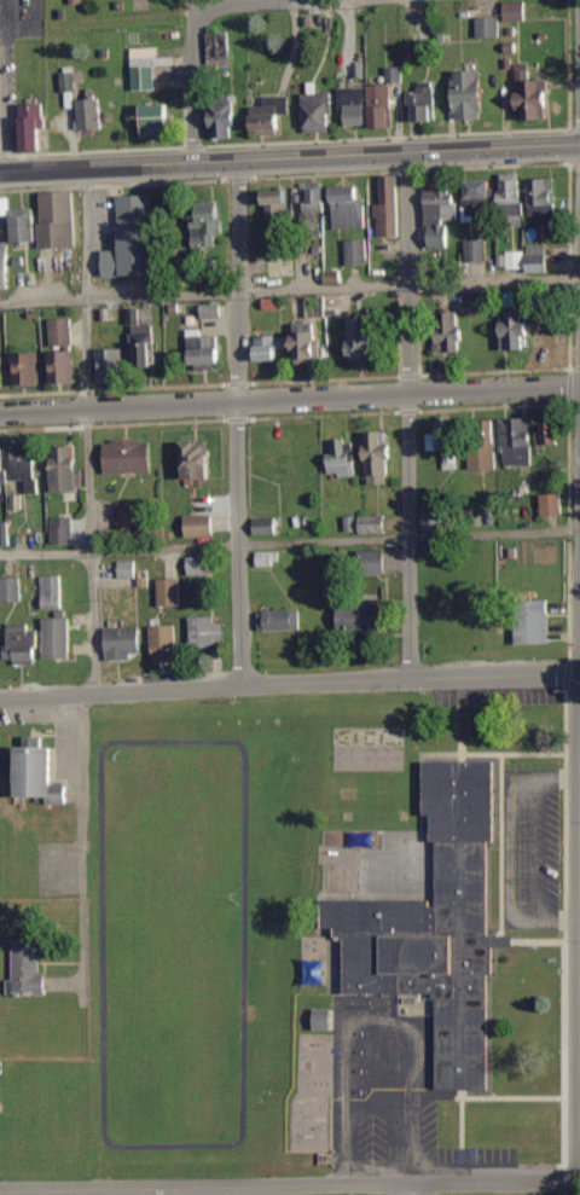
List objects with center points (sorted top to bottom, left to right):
road: (348, 1)
road: (198, 5)
building: (515, 10)
building: (487, 25)
building: (217, 47)
road: (198, 52)
building: (146, 66)
building: (68, 81)
building: (470, 93)
building: (532, 93)
building: (422, 103)
building: (354, 105)
building: (382, 105)
building: (318, 111)
building: (91, 112)
building: (272, 112)
building: (224, 117)
building: (156, 120)
building: (33, 124)
road: (289, 152)
building: (512, 196)
building: (314, 199)
building: (478, 199)
building: (543, 199)
building: (137, 205)
building: (389, 205)
building: (348, 207)
building: (279, 208)
building: (440, 214)
building: (58, 219)
building: (19, 221)
building: (209, 226)
building: (476, 250)
building: (130, 251)
building: (356, 251)
building: (536, 257)
building: (5, 266)
road: (290, 289)
building: (480, 302)
building: (514, 330)
building: (449, 332)
building: (549, 333)
building: (141, 338)
building: (364, 340)
building: (307, 346)
building: (269, 347)
building: (205, 350)
building: (62, 352)
building: (111, 364)
building: (25, 367)
building: (1, 370)
road: (290, 400)
road: (411, 414)
road: (232, 418)
road: (87, 427)
building: (547, 431)
building: (517, 441)
building: (443, 442)
building: (129, 456)
building: (482, 456)
building: (379, 457)
building: (342, 458)
building: (198, 459)
building: (4, 464)
building: (28, 466)
building: (68, 469)
building: (551, 504)
building: (128, 516)
building: (435, 520)
building: (373, 523)
building: (199, 524)
building: (266, 526)
building: (62, 530)
road: (290, 543)
building: (267, 558)
building: (373, 561)
building: (199, 564)
building: (11, 588)
building: (51, 591)
building: (169, 591)
building: (360, 616)
building: (282, 619)
building: (534, 622)
building: (205, 632)
building: (57, 638)
building: (123, 642)
building: (164, 642)
building: (22, 644)
road: (290, 683)
building: (39, 775)
road: (81, 847)
building: (435, 926)
building: (27, 970)
building: (323, 1019)
road: (290, 1185)
road: (413, 1189)

